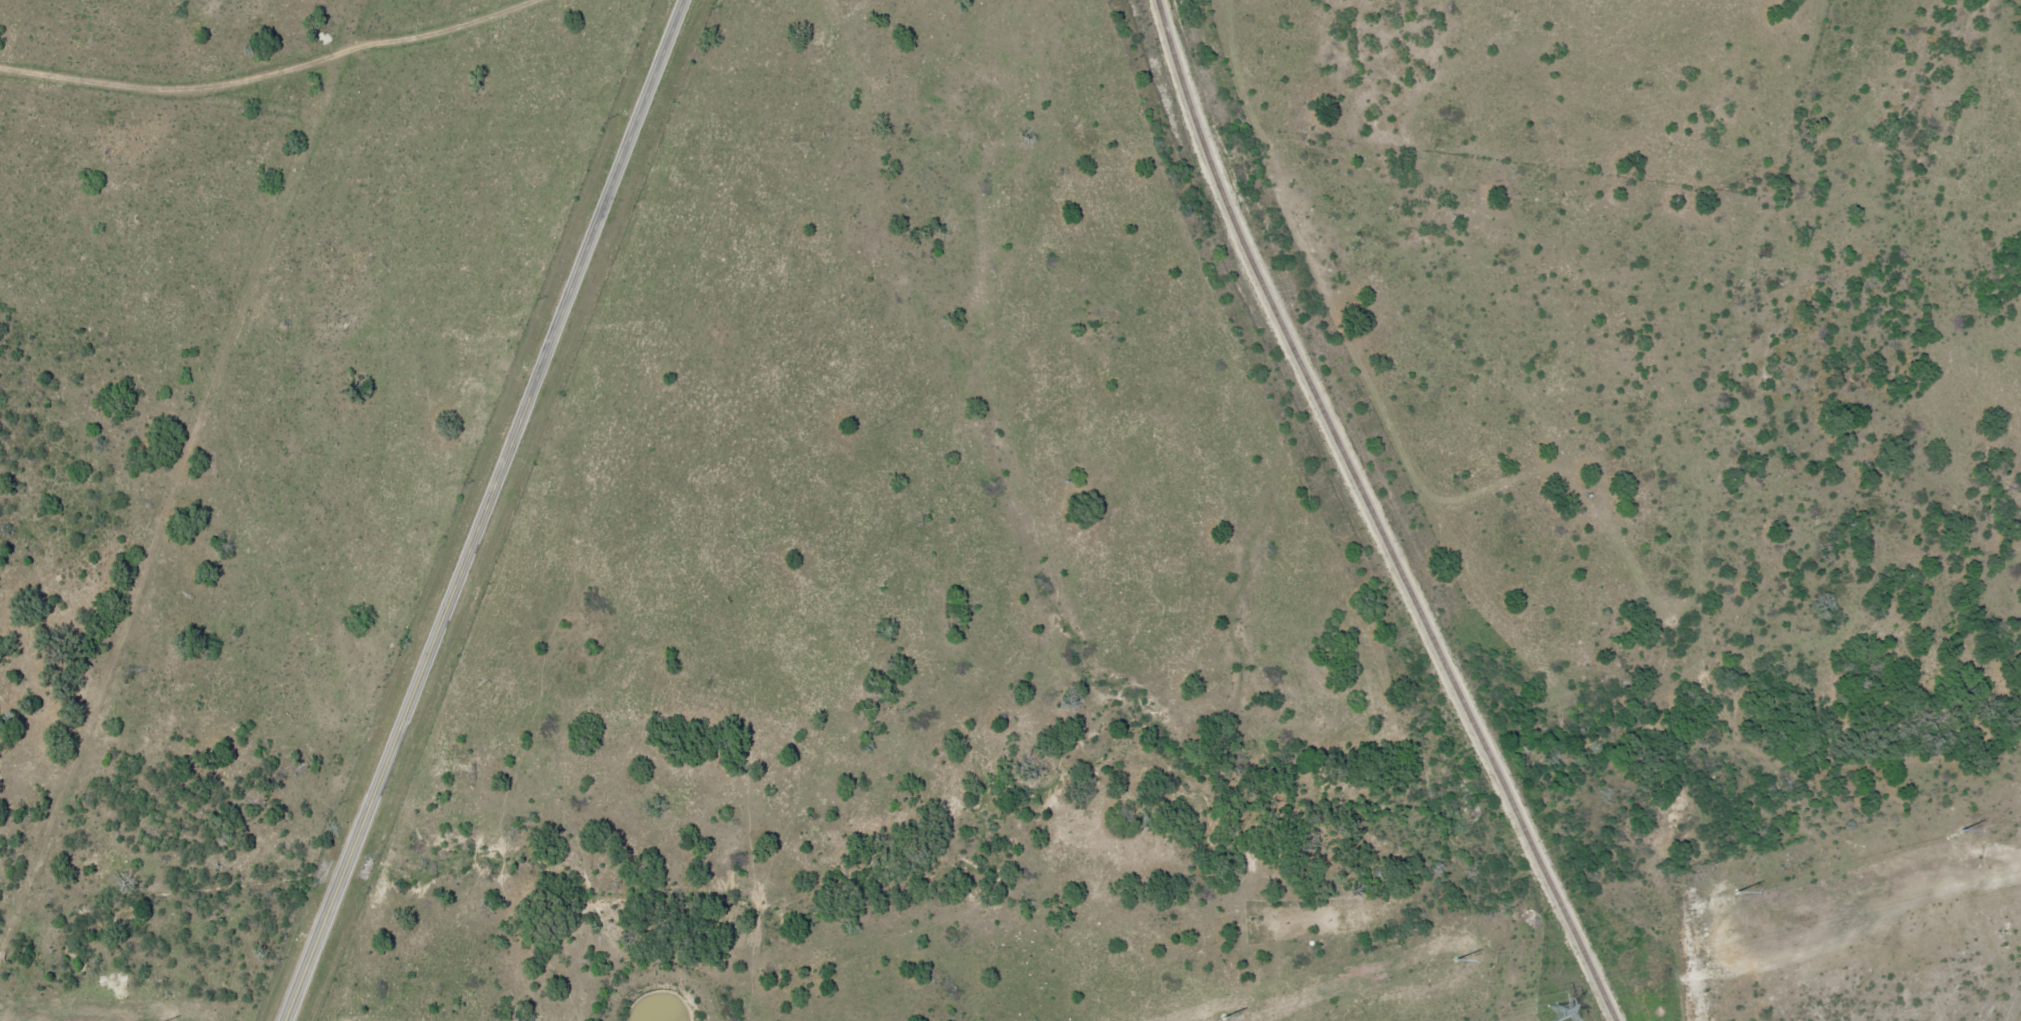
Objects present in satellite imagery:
road: (487, 510)
railway: (1373, 515)
power tower: (1554, 1014)

